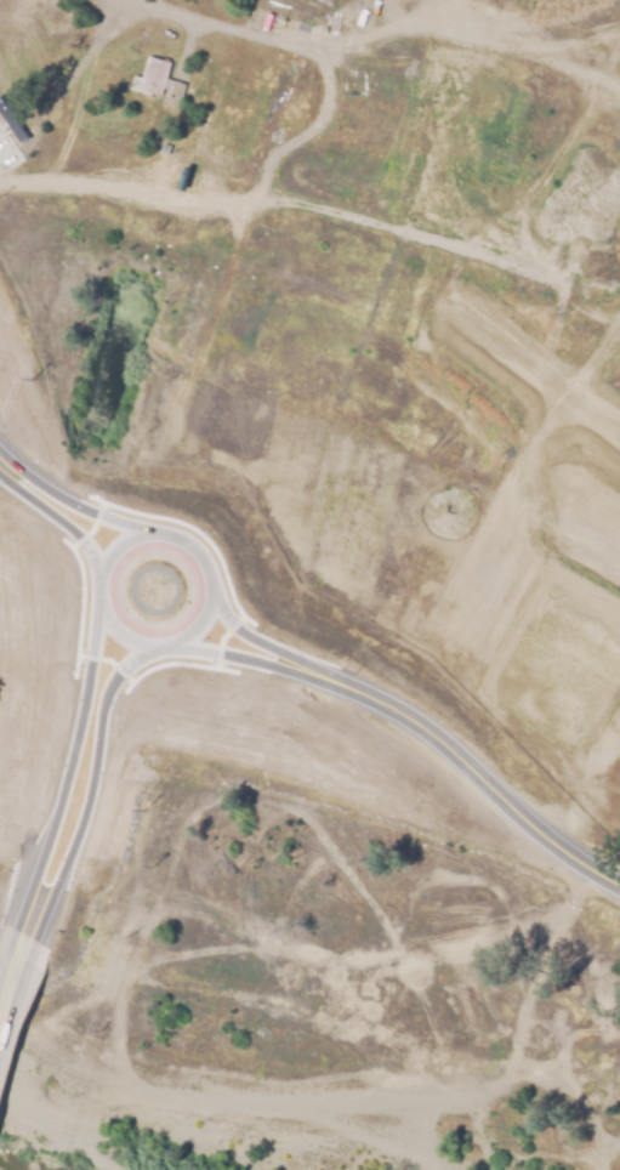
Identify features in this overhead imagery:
building: (383, 62)
building: (152, 74)
building: (335, 183)
road: (58, 493)
road: (99, 574)
road: (427, 716)
road: (78, 772)
road: (15, 973)

